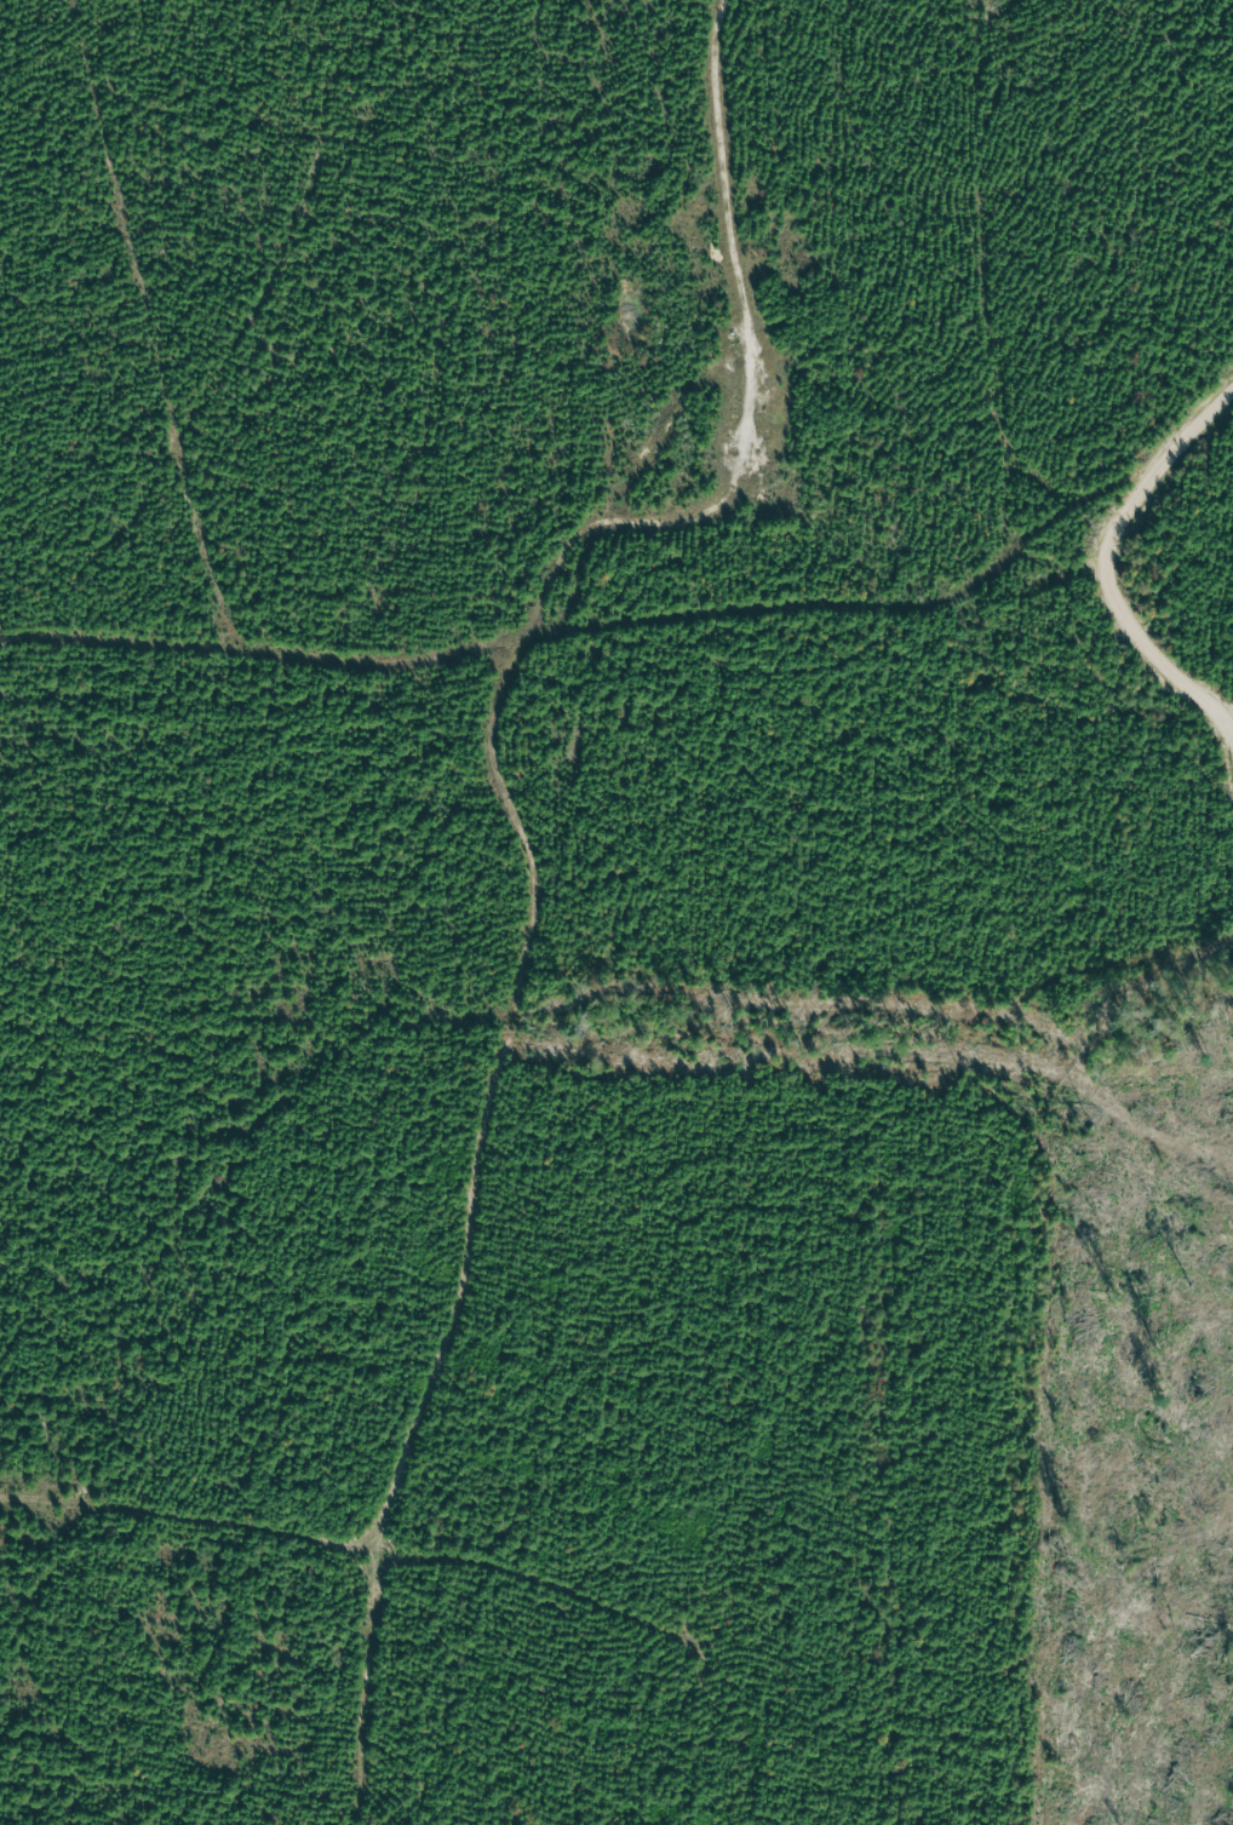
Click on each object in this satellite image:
road: (724, 220)

